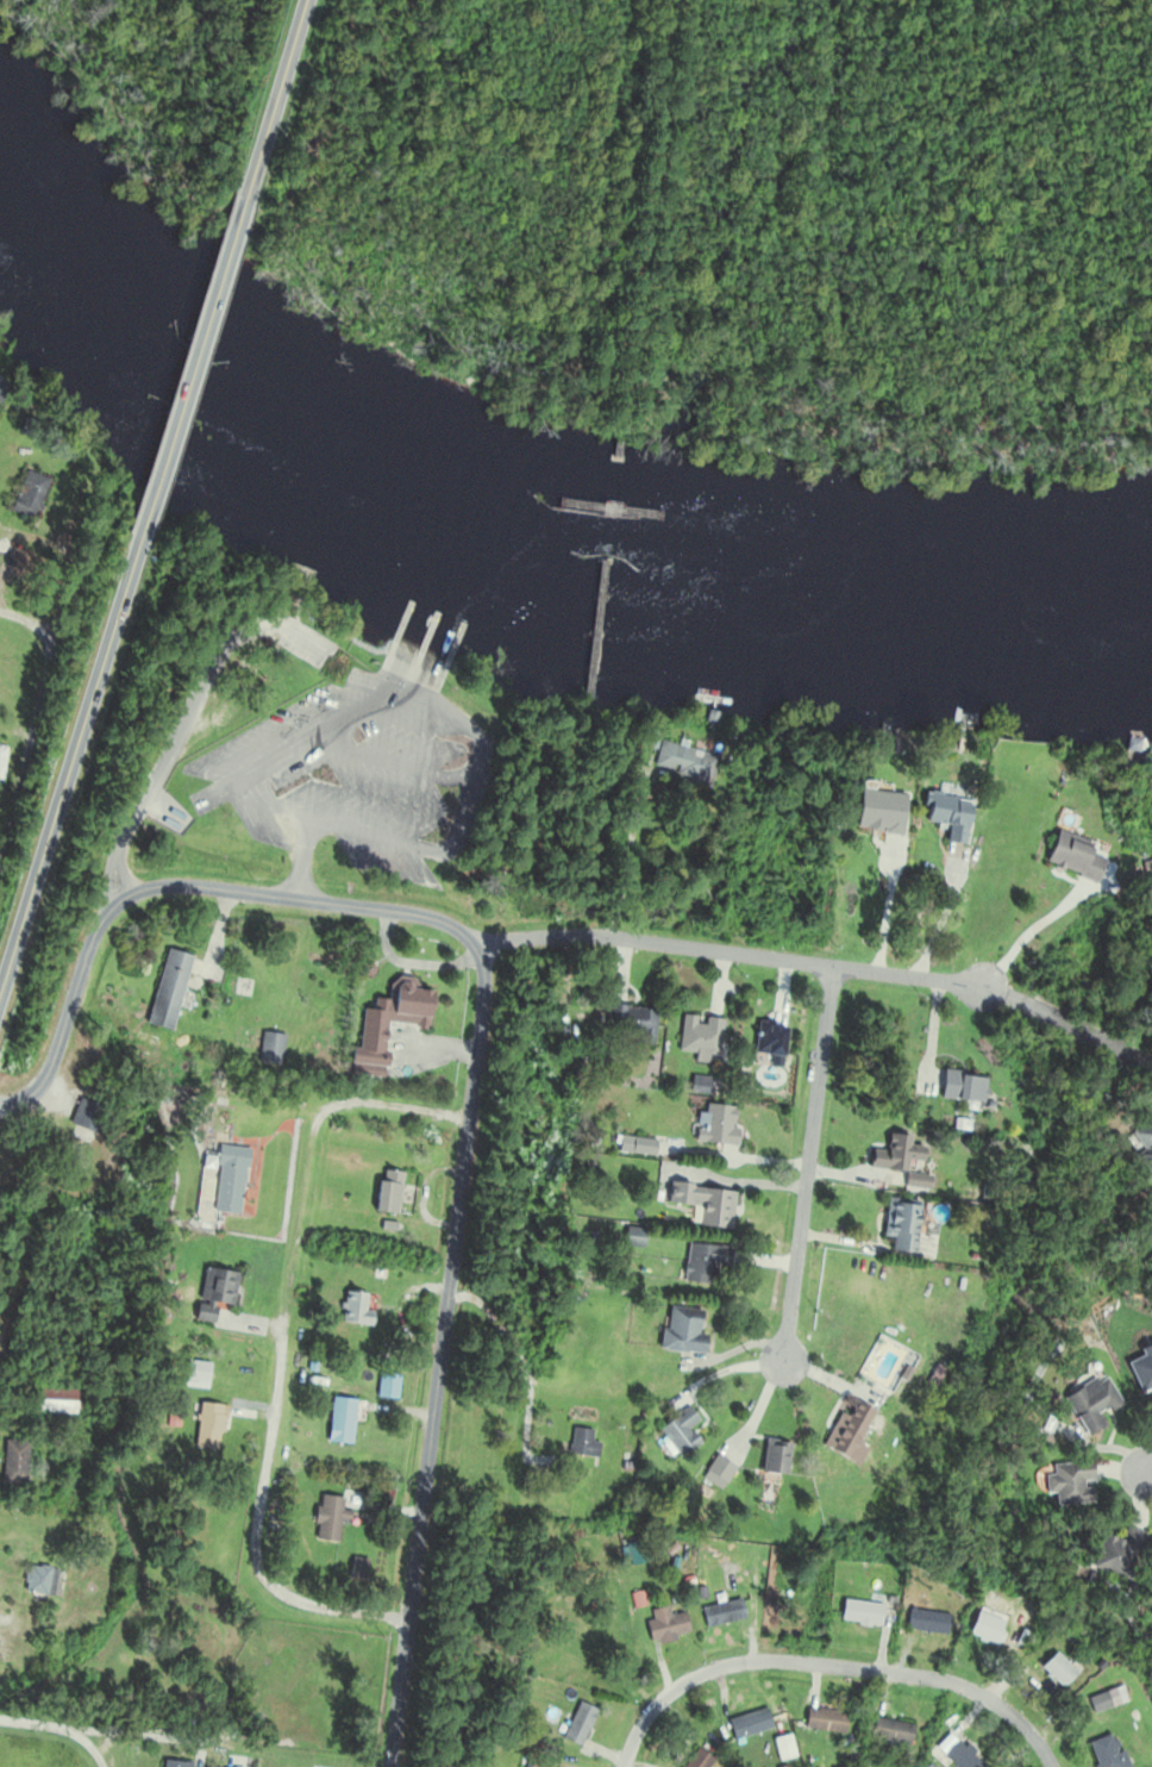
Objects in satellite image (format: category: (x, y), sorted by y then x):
road: (273, 99)
road: (215, 287)
road: (162, 461)
building: (26, 493)
river: (508, 544)
river: (1146, 614)
road: (29, 736)
building: (1, 755)
building: (684, 764)
road: (68, 767)
building: (879, 811)
building: (945, 816)
building: (1072, 854)
road: (176, 885)
road: (884, 911)
road: (940, 917)
road: (821, 966)
building: (165, 991)
building: (631, 1022)
building: (386, 1024)
building: (699, 1036)
building: (768, 1042)
building: (269, 1049)
building: (962, 1088)
building: (718, 1125)
building: (1141, 1143)
building: (637, 1145)
building: (897, 1155)
road: (807, 1165)
building: (227, 1180)
building: (386, 1192)
building: (703, 1204)
building: (899, 1225)
building: (703, 1262)
building: (217, 1288)
building: (356, 1307)
building: (682, 1330)
road: (280, 1341)
road: (735, 1350)
road: (438, 1360)
road: (724, 1374)
road: (820, 1378)
building: (386, 1386)
building: (52, 1401)
building: (1088, 1403)
road: (757, 1412)
building: (339, 1421)
building: (212, 1423)
building: (680, 1432)
building: (846, 1434)
building: (582, 1443)
building: (774, 1459)
building: (13, 1463)
road: (1147, 1468)
building: (718, 1471)
building: (1068, 1484)
building: (327, 1518)
building: (1115, 1551)
building: (38, 1580)
building: (641, 1593)
building: (725, 1612)
building: (858, 1613)
building: (666, 1625)
building: (984, 1628)
road: (831, 1666)
building: (1054, 1671)
building: (1103, 1700)
building: (824, 1721)
road: (36, 1722)
building: (747, 1724)
building: (576, 1725)
building: (890, 1732)
road: (89, 1746)
building: (1104, 1753)
building: (953, 1754)
building: (696, 1760)
building: (171, 1765)

